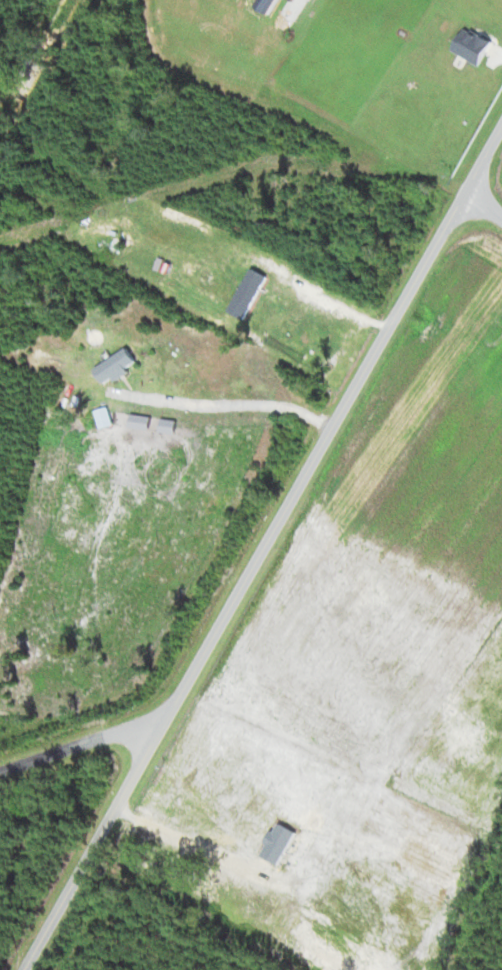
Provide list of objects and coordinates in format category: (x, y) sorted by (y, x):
road: (484, 195)
road: (262, 547)
road: (78, 735)
building: (190, 833)

